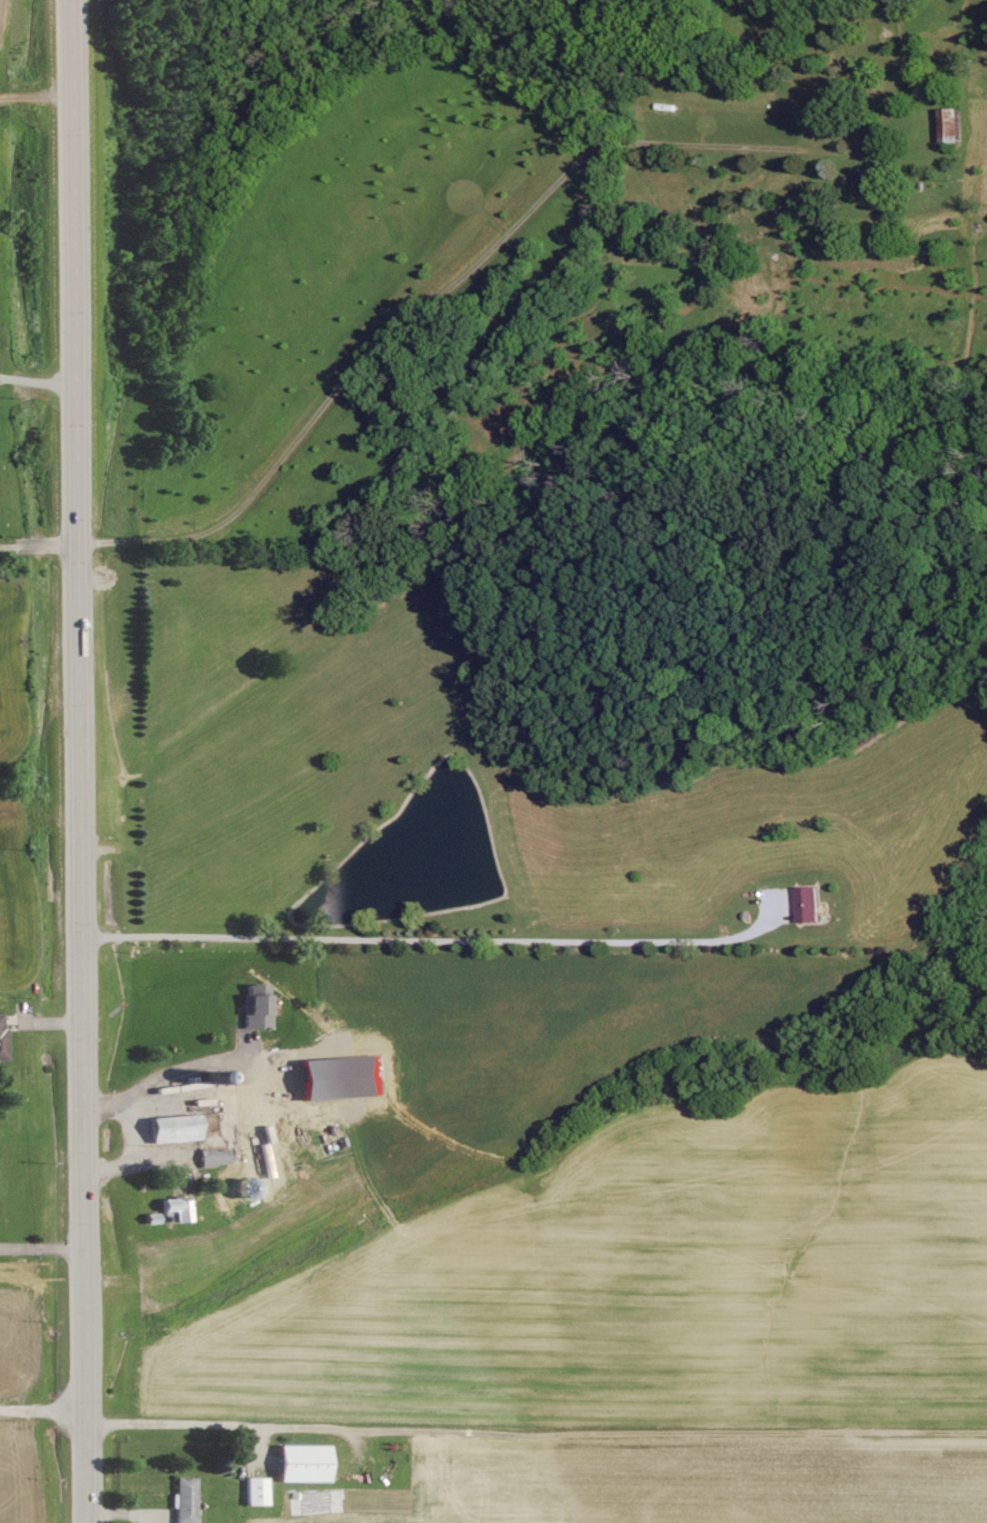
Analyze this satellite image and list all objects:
building: (954, 122)
building: (865, 180)
road: (36, 545)
road: (73, 761)
building: (810, 904)
road: (436, 939)
building: (259, 1006)
building: (3, 1038)
road: (163, 1075)
building: (177, 1128)
road: (132, 1151)
building: (216, 1157)
building: (180, 1209)
road: (43, 1245)
road: (44, 1410)
road: (537, 1425)
building: (306, 1463)
building: (259, 1491)
building: (186, 1500)

